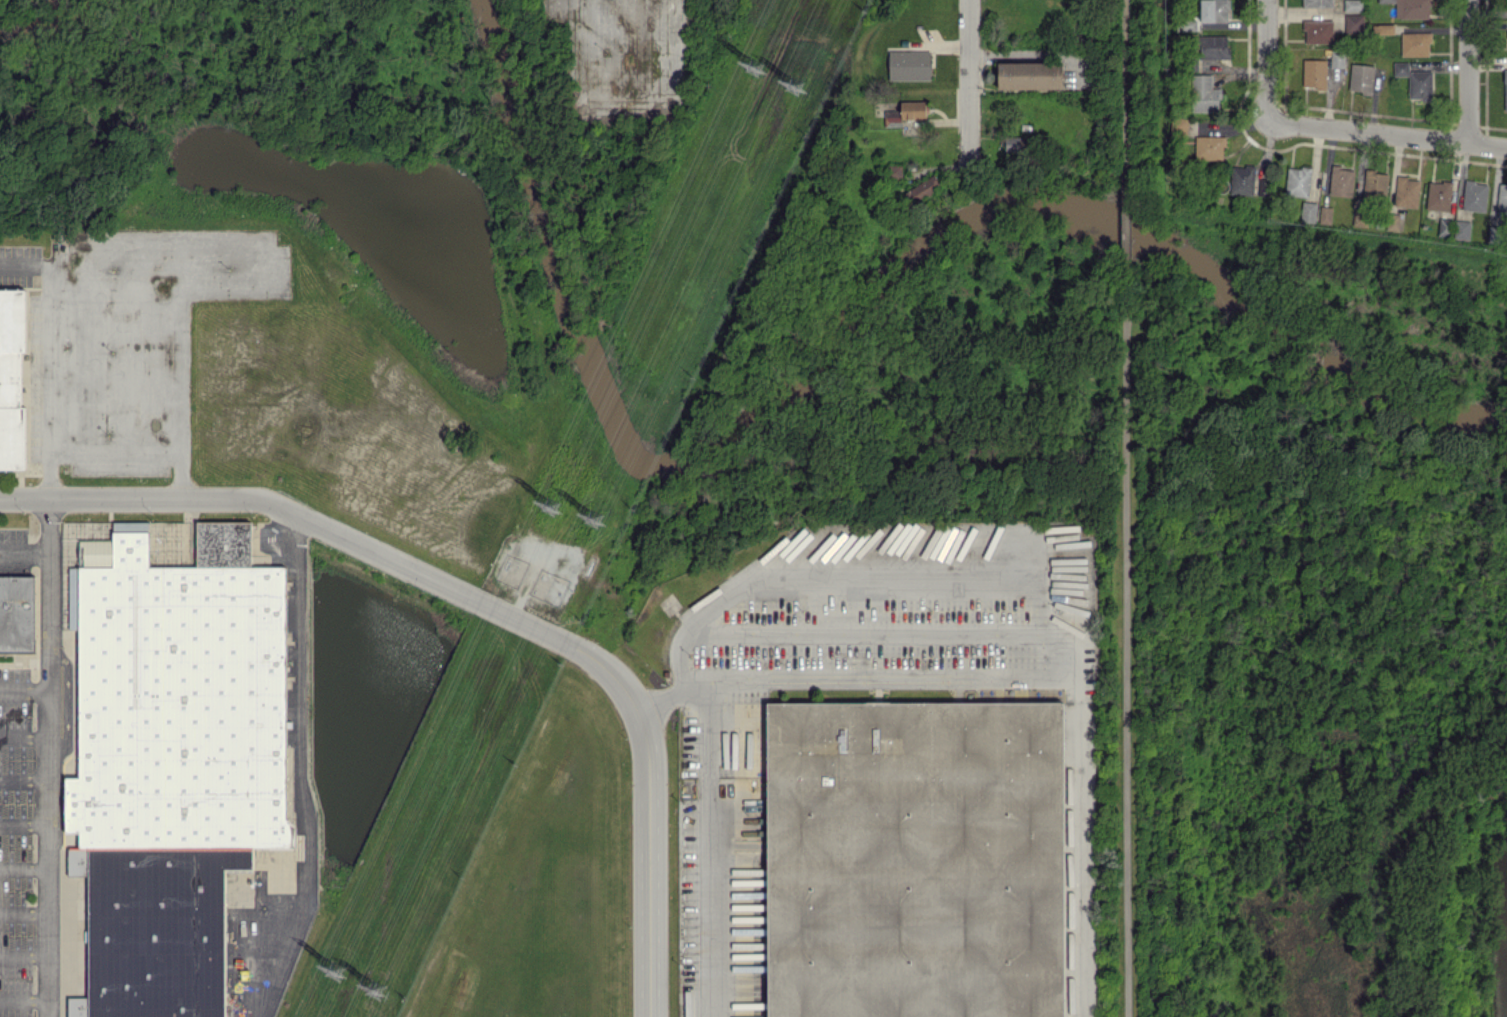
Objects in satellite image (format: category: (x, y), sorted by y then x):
building: (1386, 1)
building: (1316, 3)
building: (1352, 5)
building: (1412, 8)
building: (1214, 10)
river: (65, 21)
building: (1353, 23)
building: (1383, 28)
building: (1318, 30)
building: (1415, 43)
building: (1214, 46)
building: (1337, 58)
road: (1266, 59)
power tower: (755, 64)
building: (909, 64)
road: (1468, 72)
building: (1314, 73)
building: (1030, 74)
building: (1361, 77)
building: (1415, 80)
power tower: (801, 86)
road: (969, 86)
building: (1505, 89)
building: (1203, 93)
road: (1127, 102)
building: (913, 109)
building: (892, 115)
building: (1179, 125)
road: (1387, 134)
building: (1209, 147)
building: (1242, 179)
building: (1297, 180)
building: (1341, 181)
building: (1375, 183)
building: (924, 188)
building: (1406, 191)
building: (1438, 195)
building: (1474, 196)
building: (1502, 199)
building: (1308, 211)
building: (1325, 214)
building: (1360, 218)
building: (1445, 227)
building: (1461, 229)
road: (1127, 230)
building: (1495, 233)
road: (180, 286)
river: (854, 322)
building: (10, 377)
road: (48, 381)
power tower: (548, 505)
power tower: (599, 519)
road: (24, 559)
road: (1024, 581)
building: (74, 597)
road: (480, 604)
building: (17, 613)
road: (876, 626)
road: (1128, 636)
road: (1045, 651)
road: (879, 674)
road: (24, 693)
road: (24, 737)
road: (48, 758)
building: (173, 760)
road: (298, 772)
road: (24, 779)
road: (24, 825)
road: (709, 845)
building: (916, 858)
road: (24, 867)
road: (24, 913)
road: (24, 955)
power tower: (330, 971)
power tower: (380, 990)
road: (24, 998)

